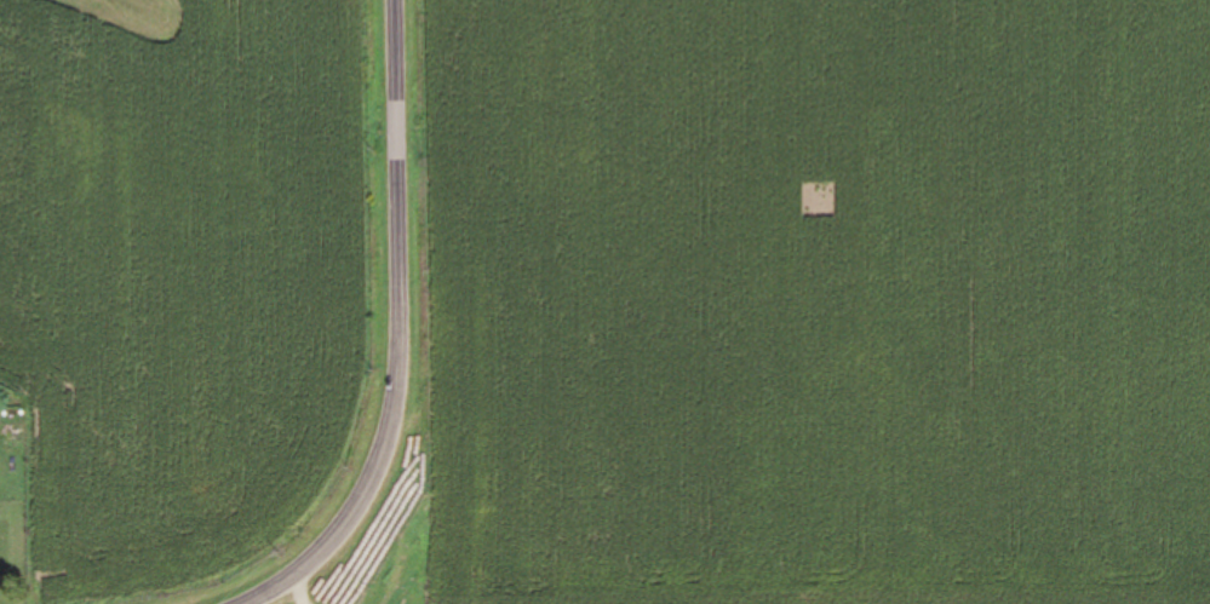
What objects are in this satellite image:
road: (394, 329)

